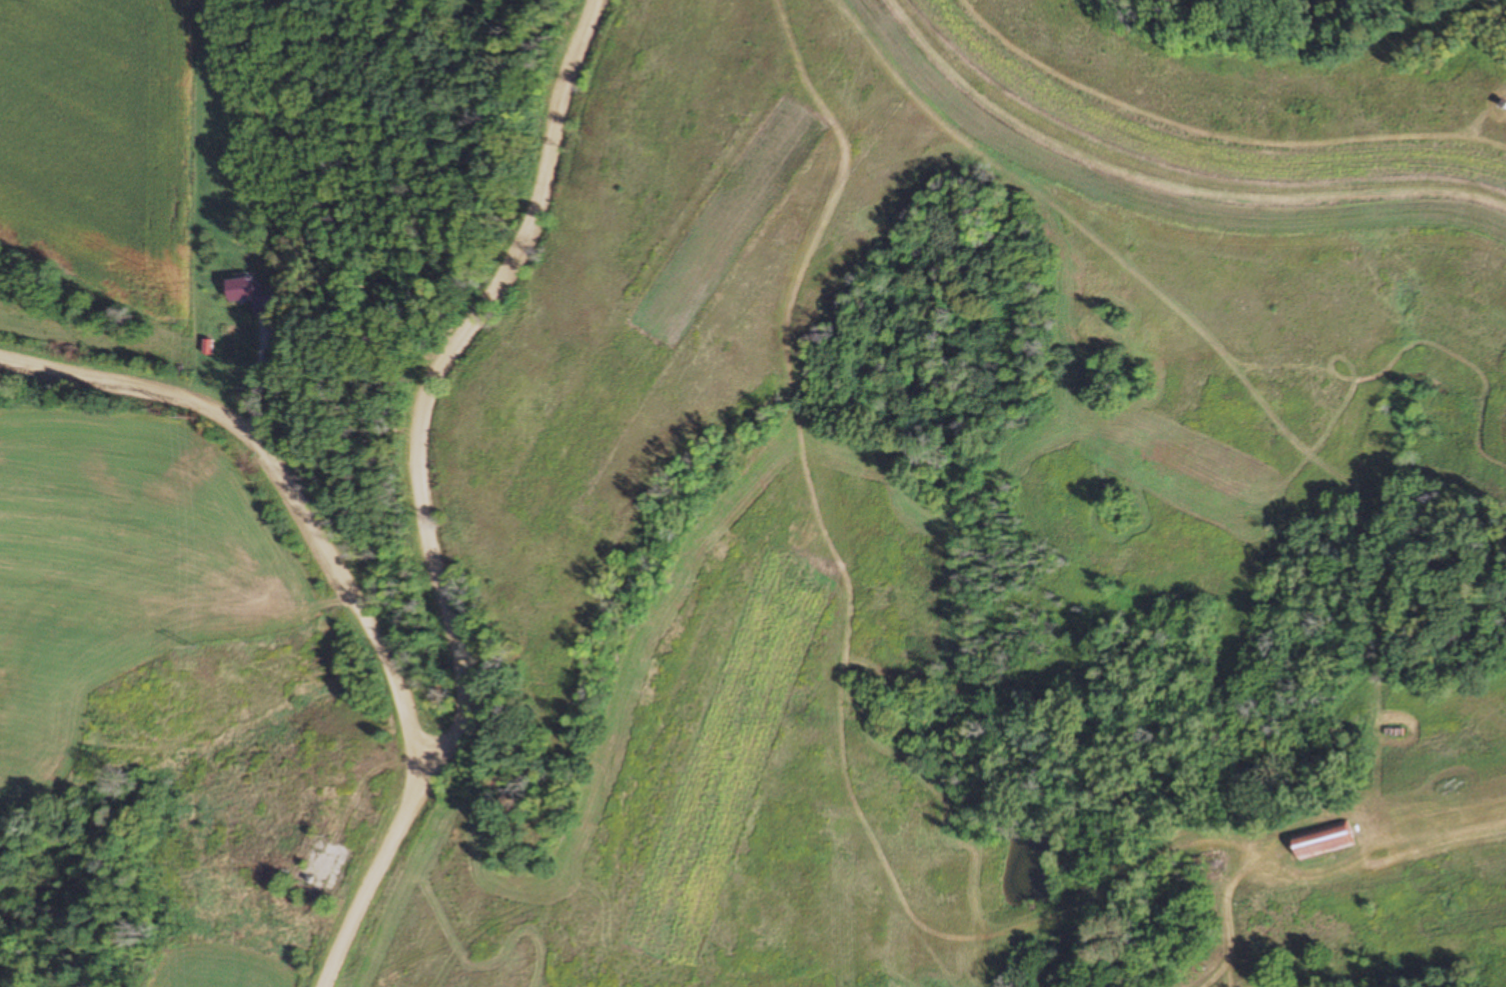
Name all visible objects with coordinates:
building: (256, 294)
power tower: (191, 417)
road: (413, 496)
road: (241, 542)
building: (1324, 840)
building: (322, 854)

